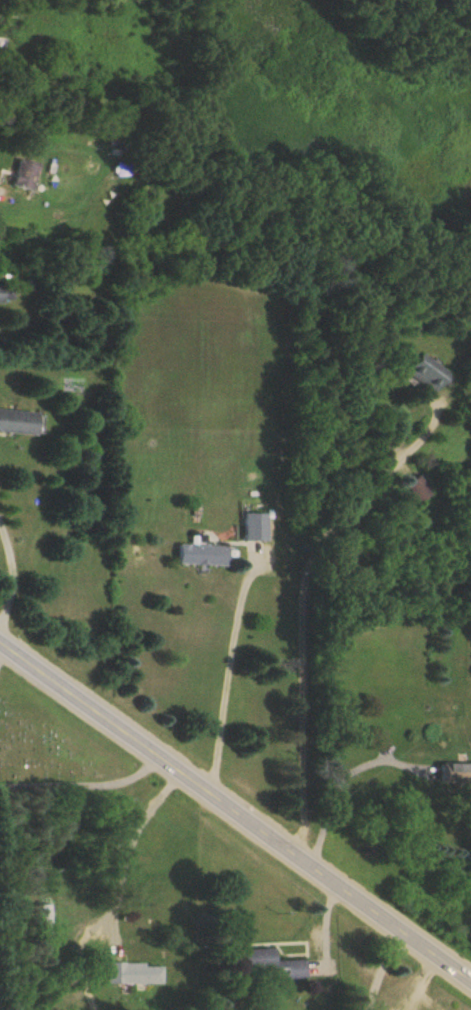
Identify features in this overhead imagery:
building: (19, 0)
building: (2, 46)
building: (21, 174)
building: (5, 293)
building: (420, 372)
building: (15, 422)
building: (414, 488)
building: (253, 526)
building: (198, 554)
road: (8, 558)
road: (257, 572)
park: (46, 748)
building: (456, 772)
road: (340, 780)
road: (235, 813)
road: (121, 893)
building: (44, 927)
building: (269, 963)
road: (379, 969)
building: (134, 973)

